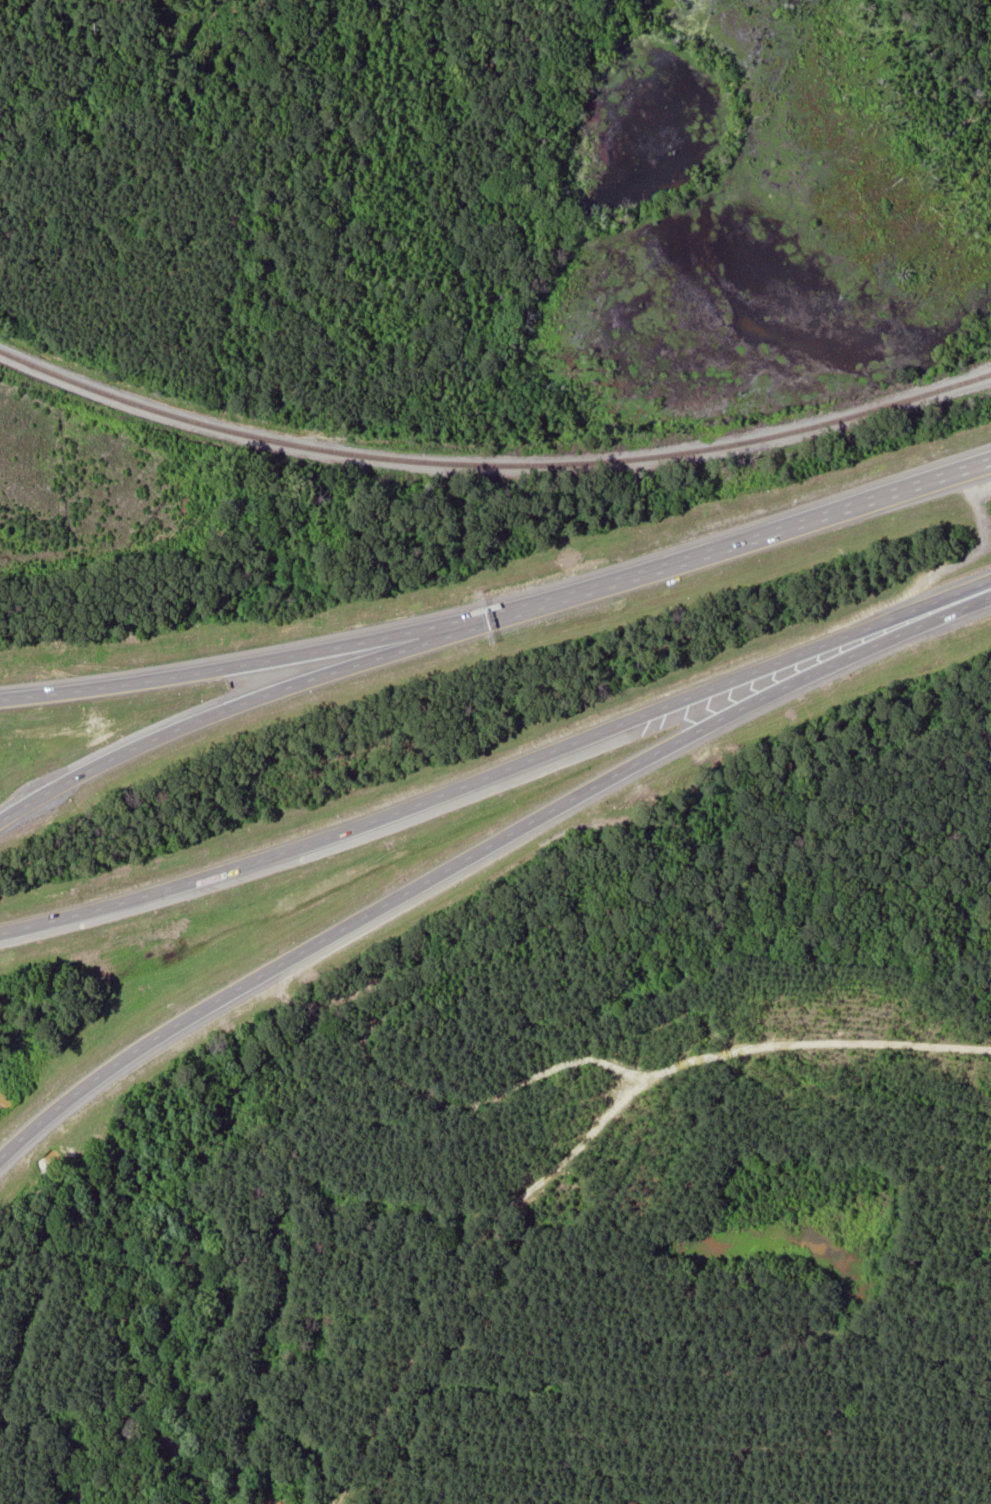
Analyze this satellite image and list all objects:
railway: (492, 466)
road: (732, 545)
road: (236, 665)
road: (229, 708)
road: (499, 771)
road: (479, 849)

